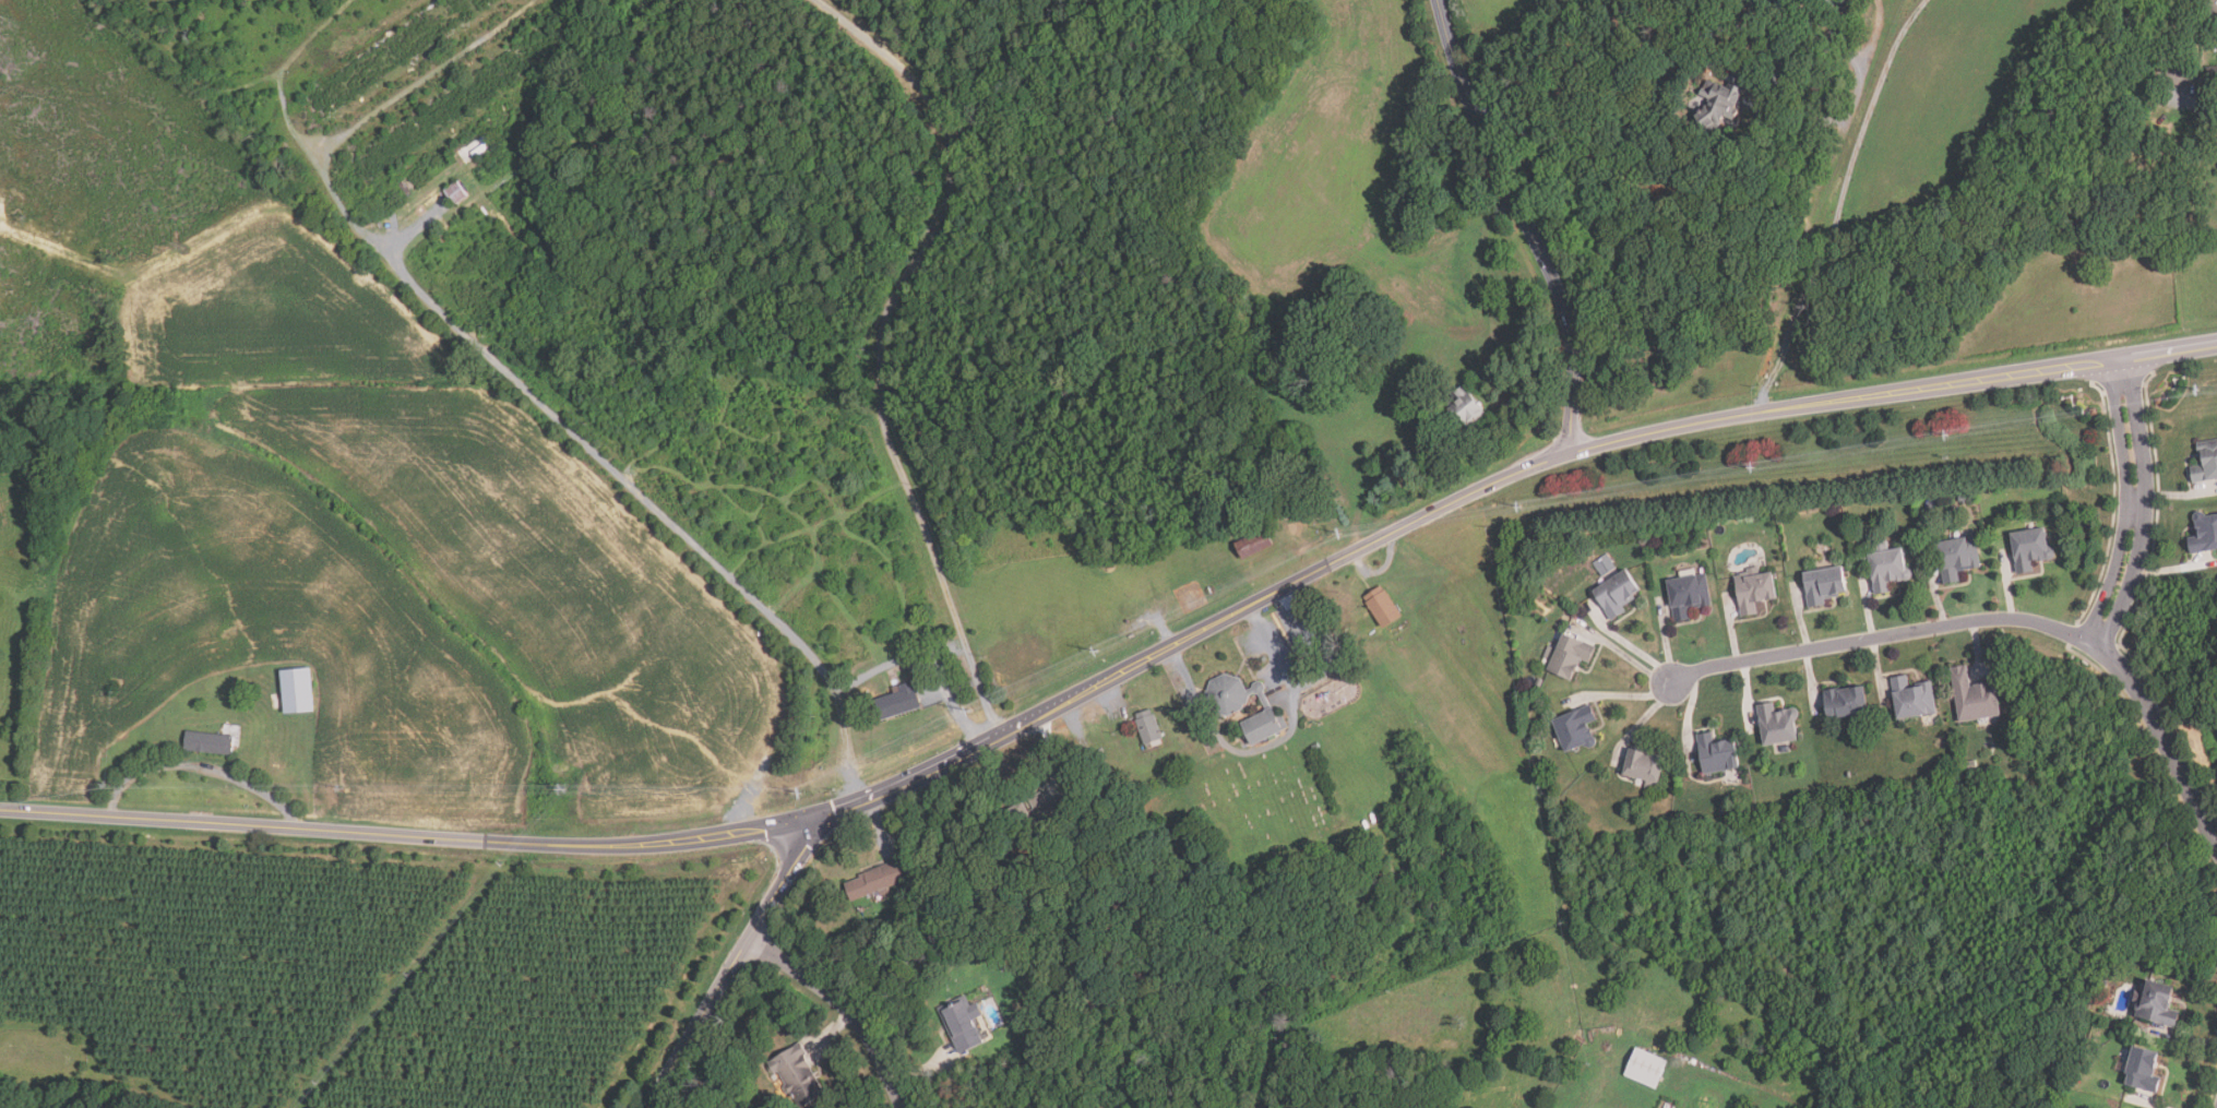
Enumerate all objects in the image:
building: (1779, 3)
building: (2209, 5)
road: (1673, 56)
building: (2184, 75)
building: (2213, 78)
road: (1854, 100)
building: (1719, 105)
road: (2212, 130)
building: (456, 193)
road: (1831, 204)
road: (1526, 223)
road: (883, 336)
river: (729, 341)
road: (510, 376)
power tower: (2205, 386)
building: (1466, 406)
power tower: (1952, 432)
building: (2205, 463)
power tower: (1756, 465)
power tower: (1521, 504)
road: (2136, 504)
building: (2205, 532)
power tower: (1339, 533)
building: (1254, 544)
building: (2029, 549)
building: (1957, 558)
building: (1887, 570)
building: (1823, 586)
building: (1754, 592)
building: (1617, 595)
building: (1688, 596)
building: (1384, 606)
road: (2000, 621)
road: (1311, 641)
road: (1272, 643)
power tower: (1099, 651)
building: (1570, 657)
road: (1120, 670)
building: (297, 690)
building: (1227, 694)
building: (1974, 696)
building: (1914, 699)
road: (1112, 700)
building: (898, 701)
building: (1846, 703)
road: (955, 710)
power tower: (972, 712)
building: (1148, 726)
building: (1262, 726)
building: (1776, 726)
building: (1575, 730)
building: (208, 742)
road: (1227, 746)
road: (1049, 750)
building: (1716, 755)
road: (199, 763)
building: (1644, 770)
power tower: (110, 786)
power tower: (343, 789)
power tower: (568, 793)
power tower: (803, 794)
building: (1127, 794)
building: (1038, 813)
road: (880, 824)
building: (880, 880)
road: (738, 958)
building: (2158, 1003)
road: (844, 1008)
building: (963, 1023)
road: (831, 1034)
road: (708, 1062)
building: (1647, 1068)
road: (920, 1070)
building: (2142, 1070)
building: (797, 1073)

